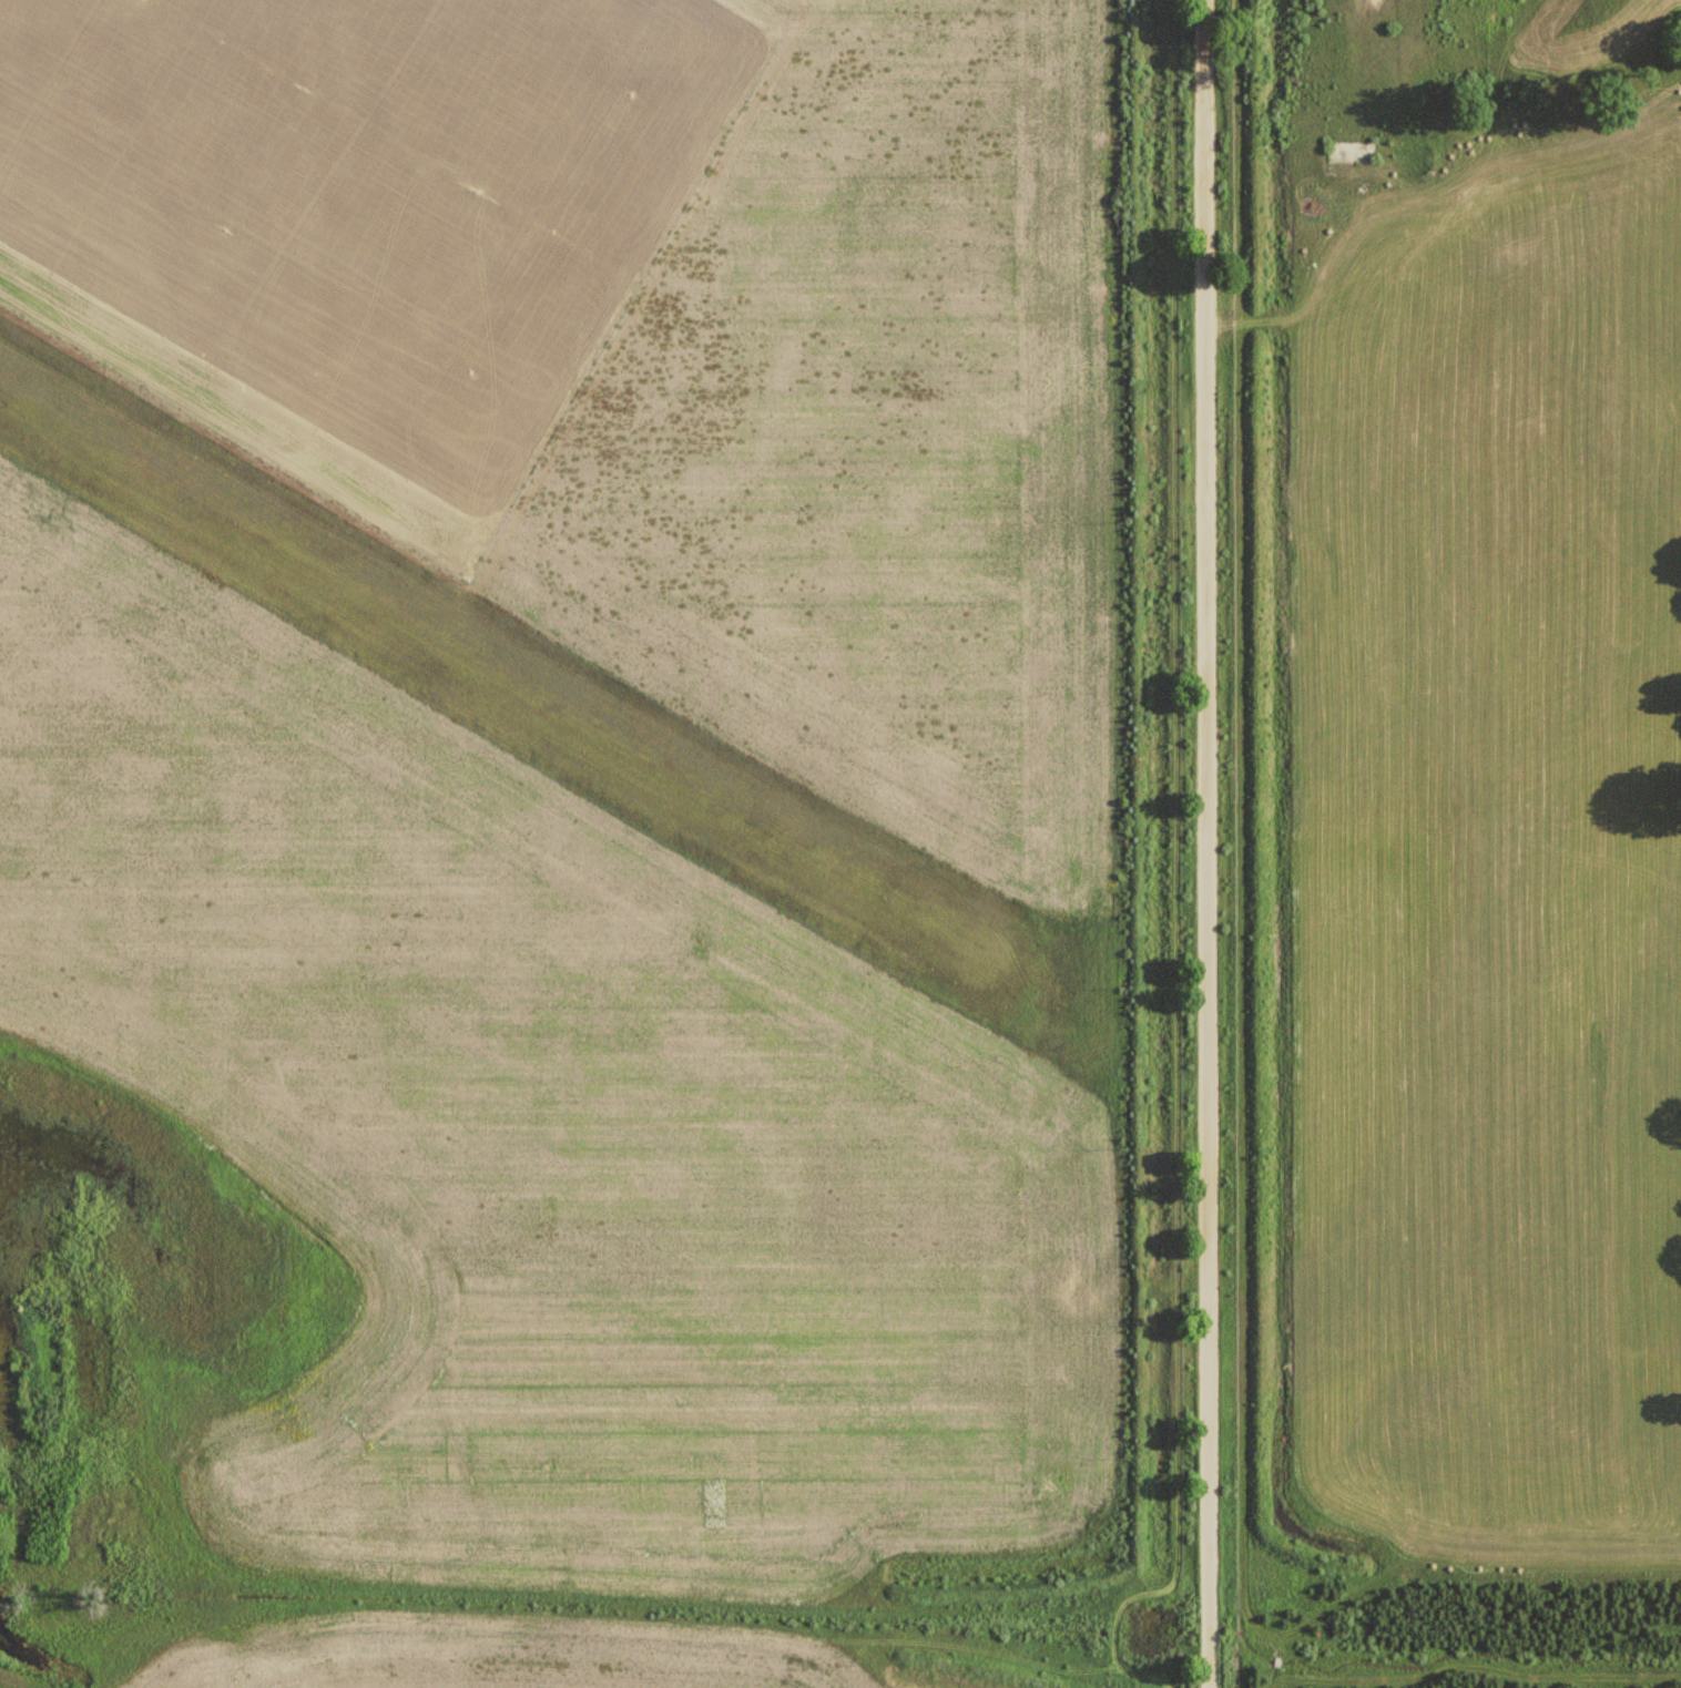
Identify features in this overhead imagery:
airport runway: (503, 672)
road: (1211, 843)
airport: (578, 846)
road: (1124, 1575)
road: (552, 1629)
road: (251, 1651)

